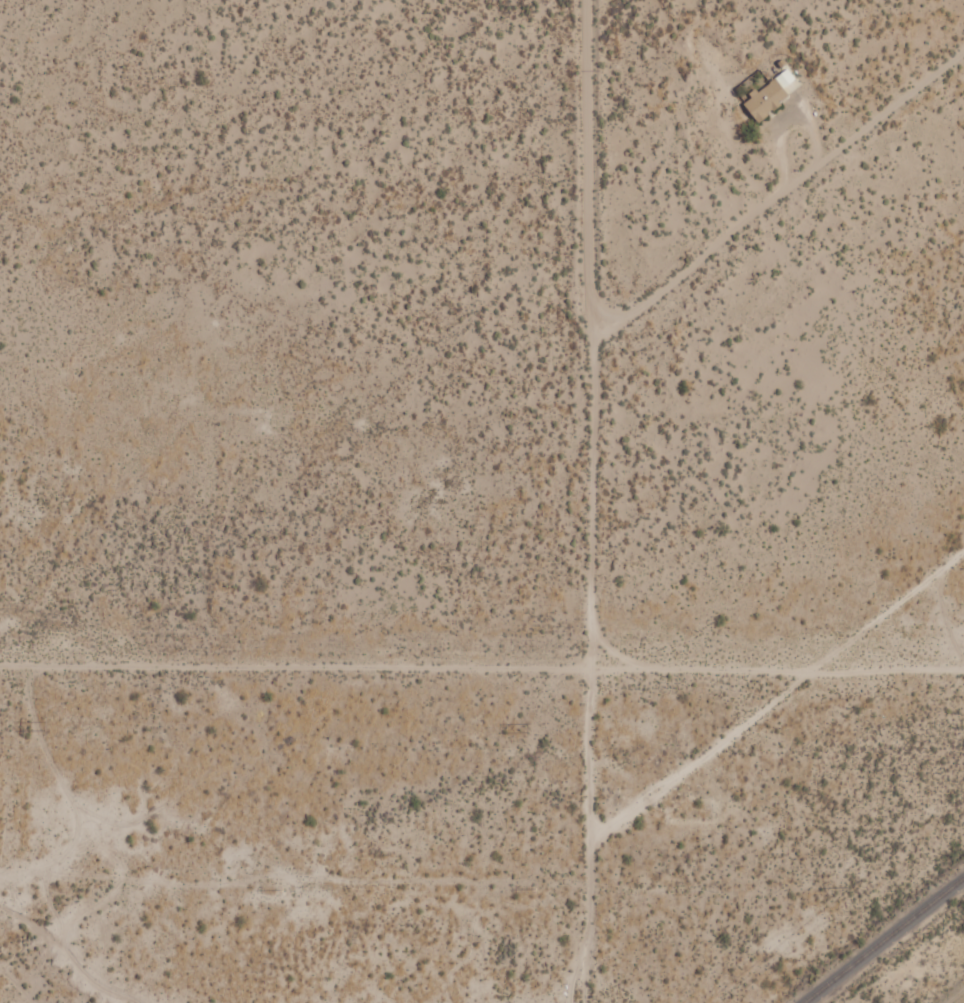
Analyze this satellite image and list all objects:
road: (584, 161)
road: (784, 191)
railway: (883, 939)

